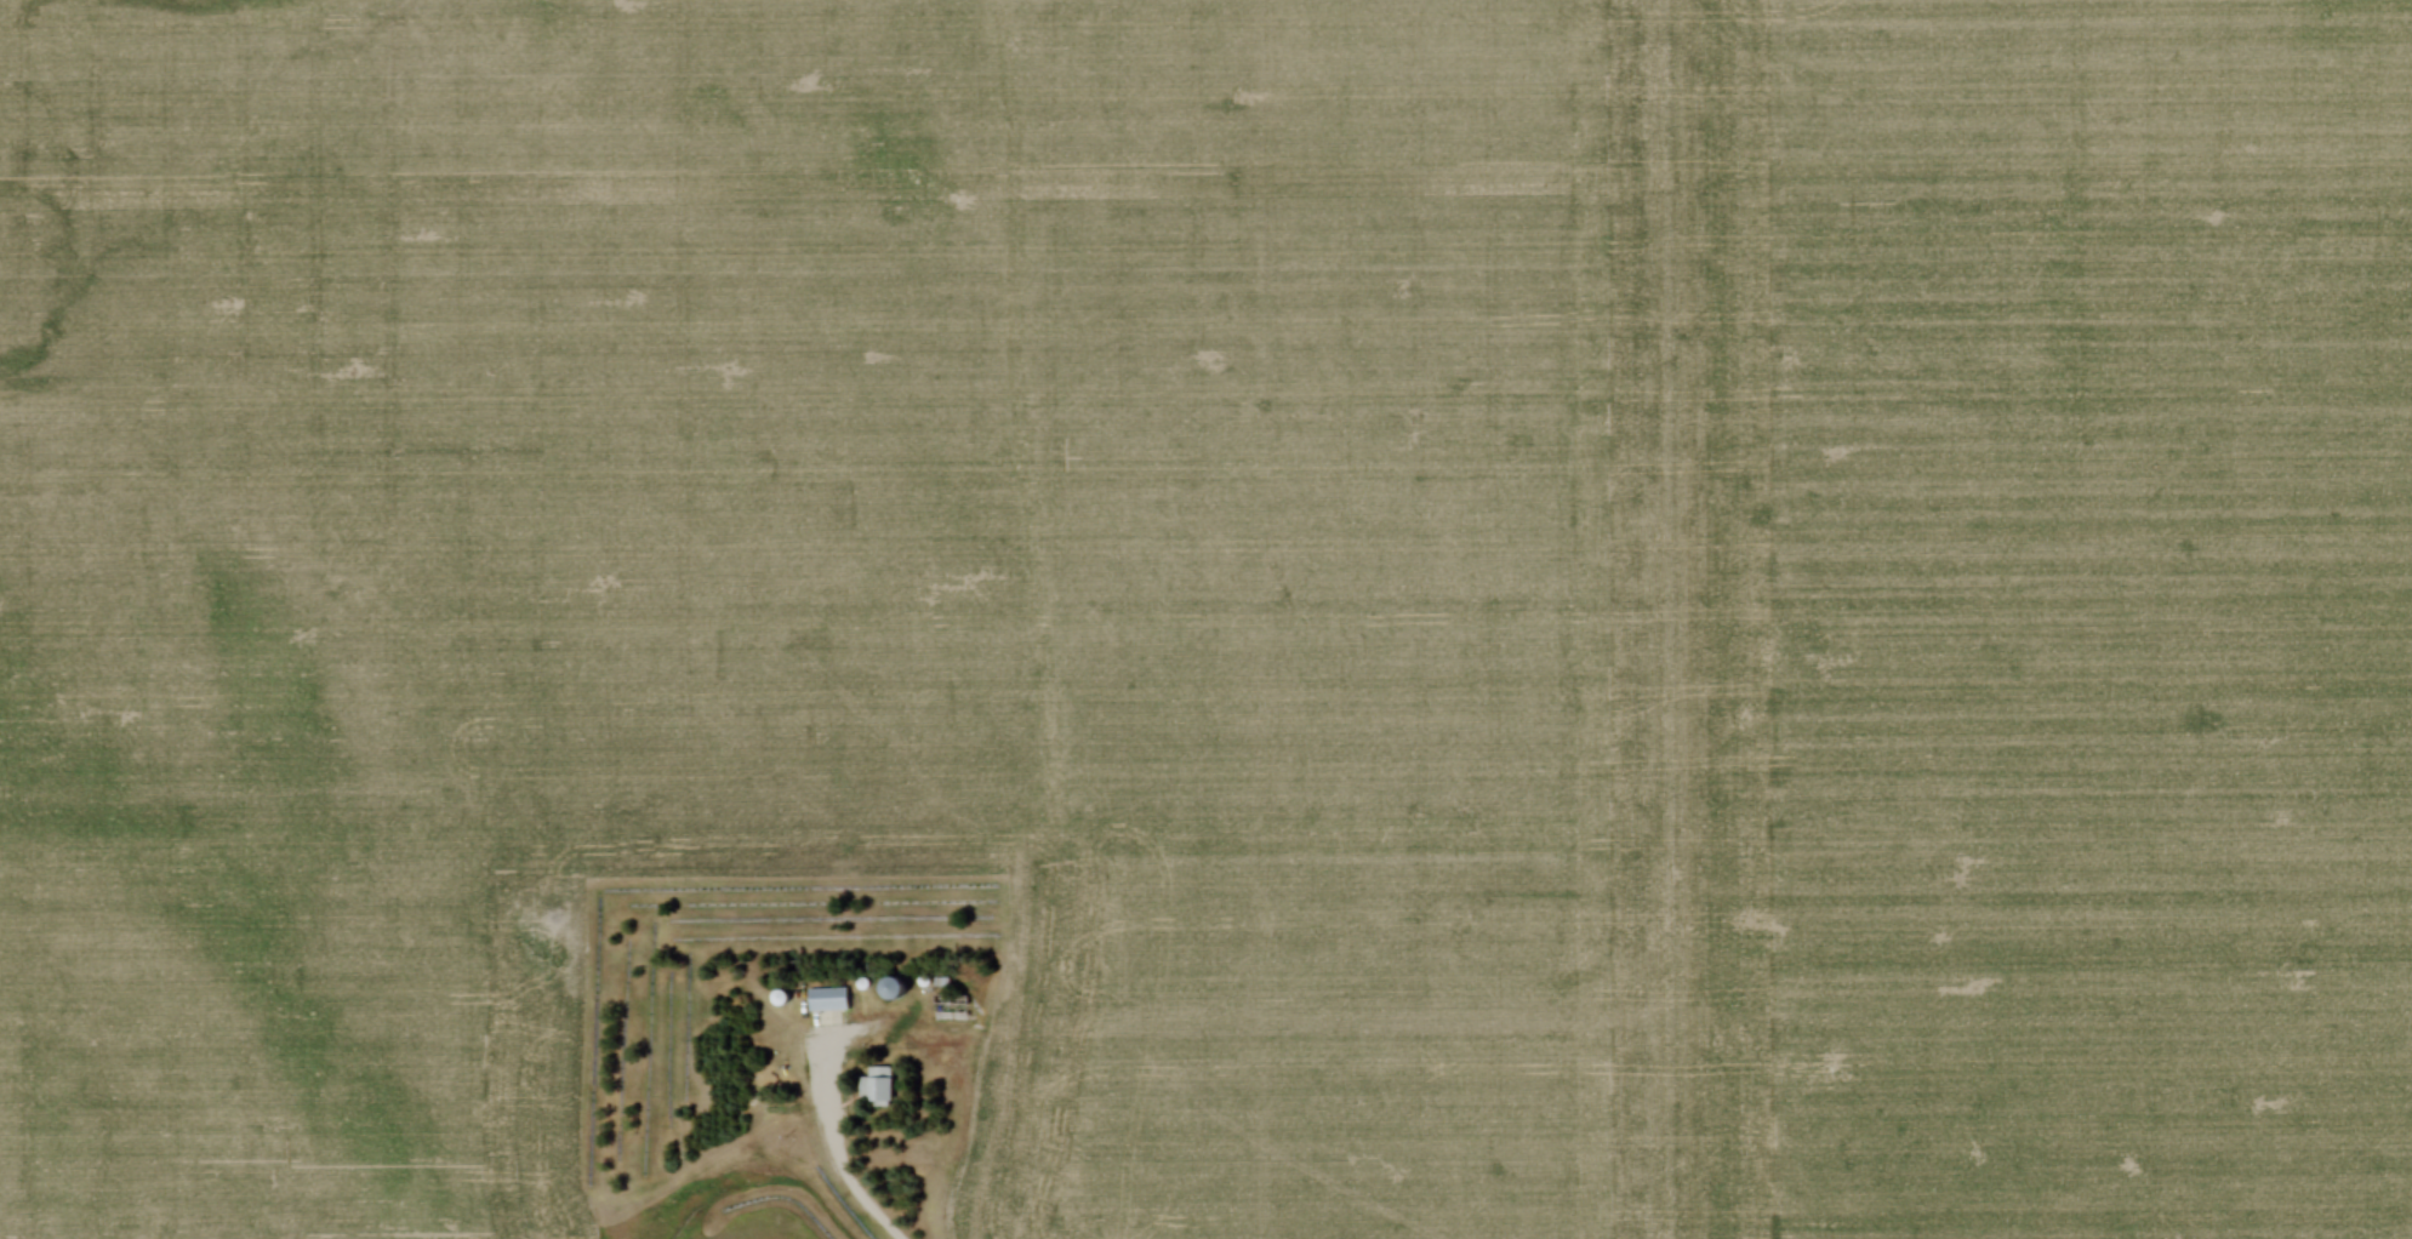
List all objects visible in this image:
building: (894, 987)
building: (829, 999)
building: (950, 1007)
building: (878, 1085)
road: (836, 1147)

